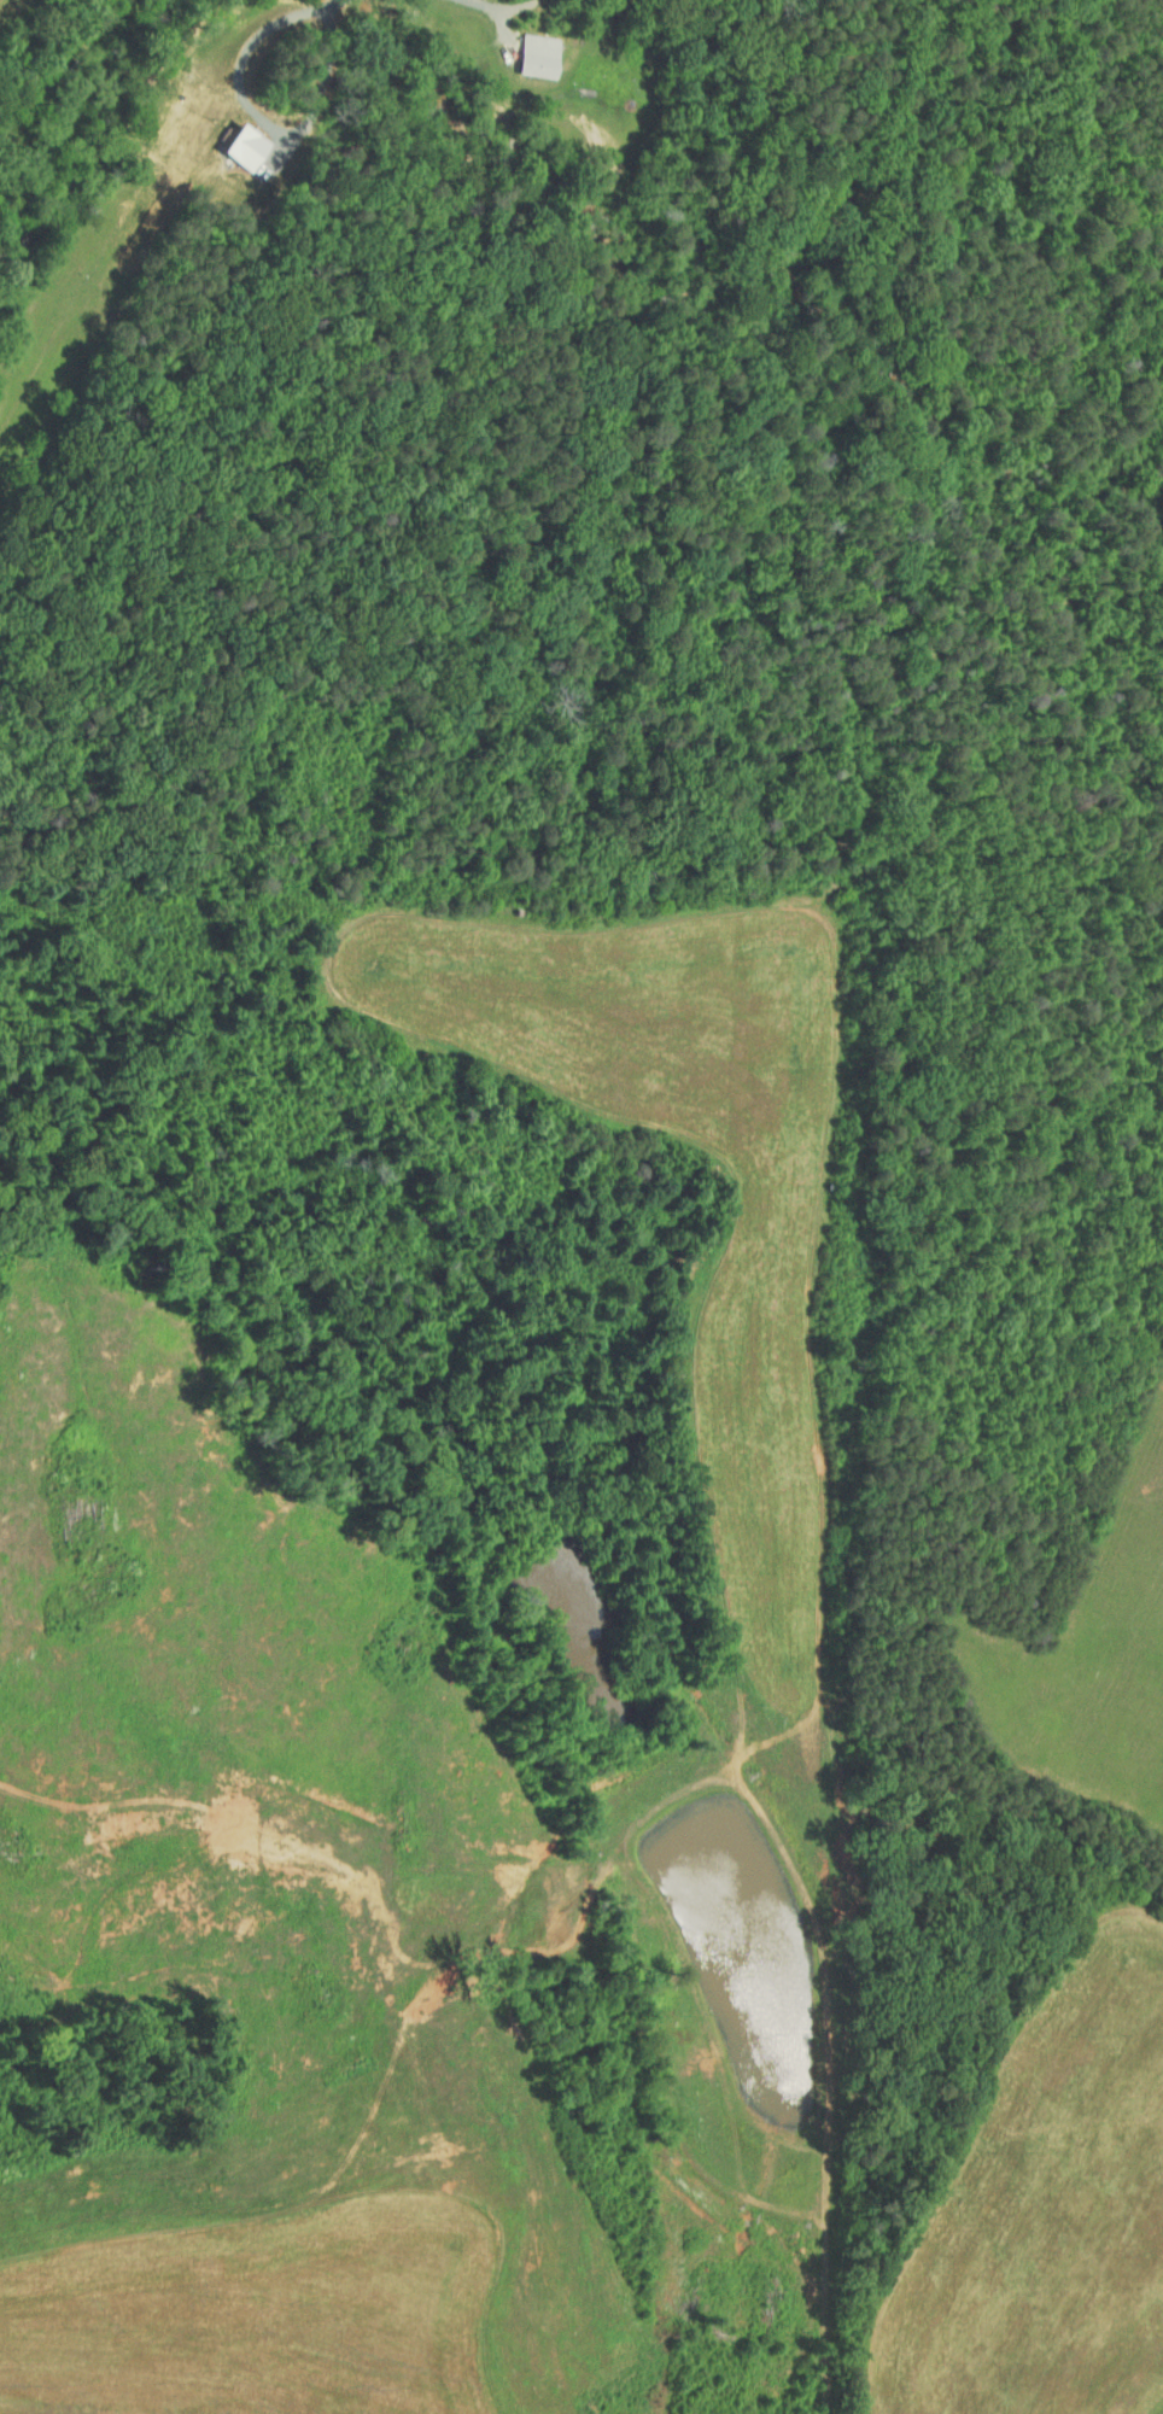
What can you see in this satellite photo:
road: (331, 2)
road: (508, 7)
building: (525, 49)
road: (263, 121)
building: (232, 141)
road: (600, 2319)

